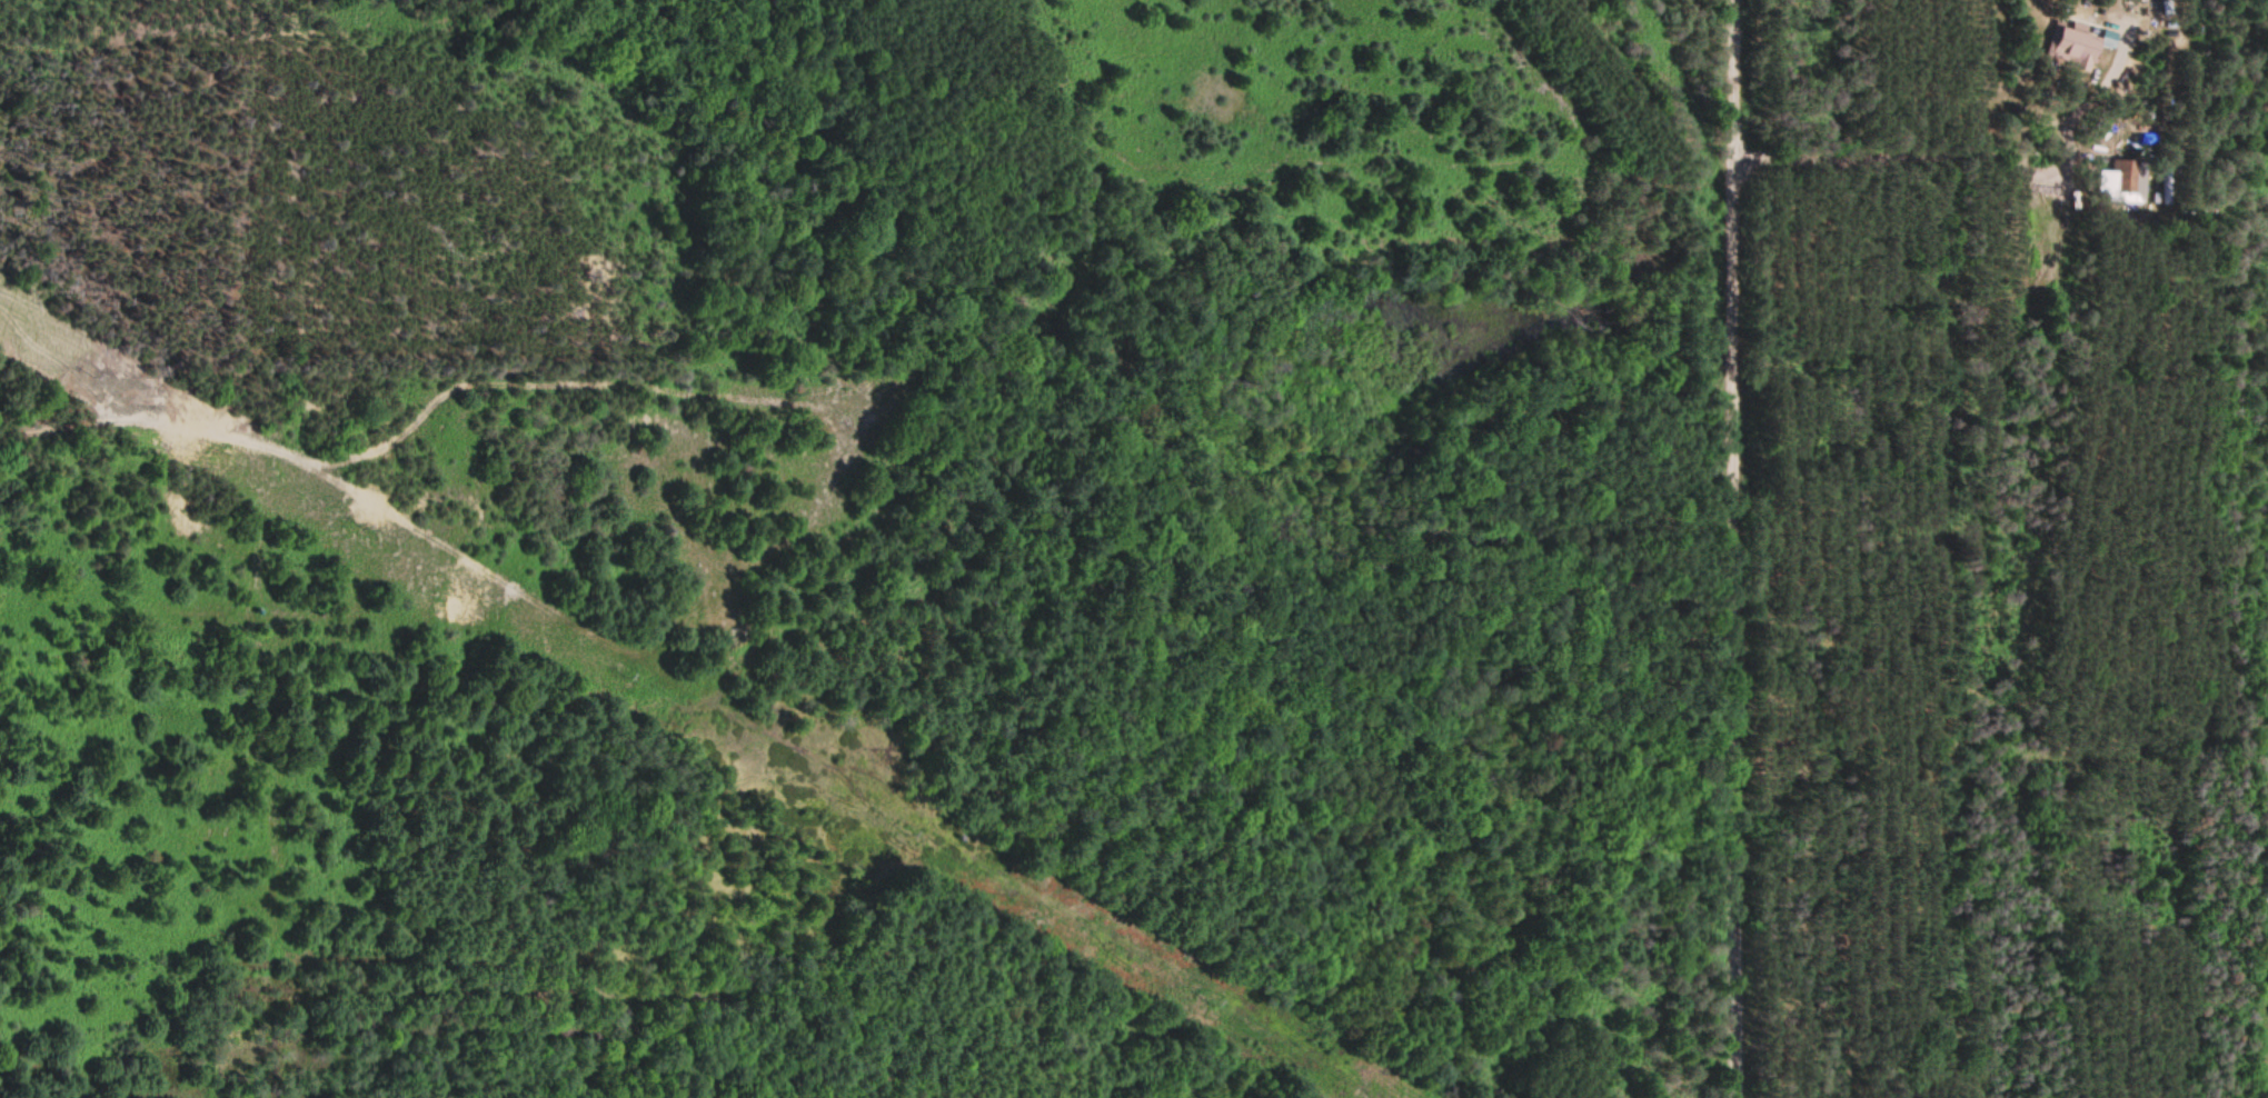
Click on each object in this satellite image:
building: (2080, 47)
building: (2121, 177)
road: (1720, 549)
building: (2267, 1011)

